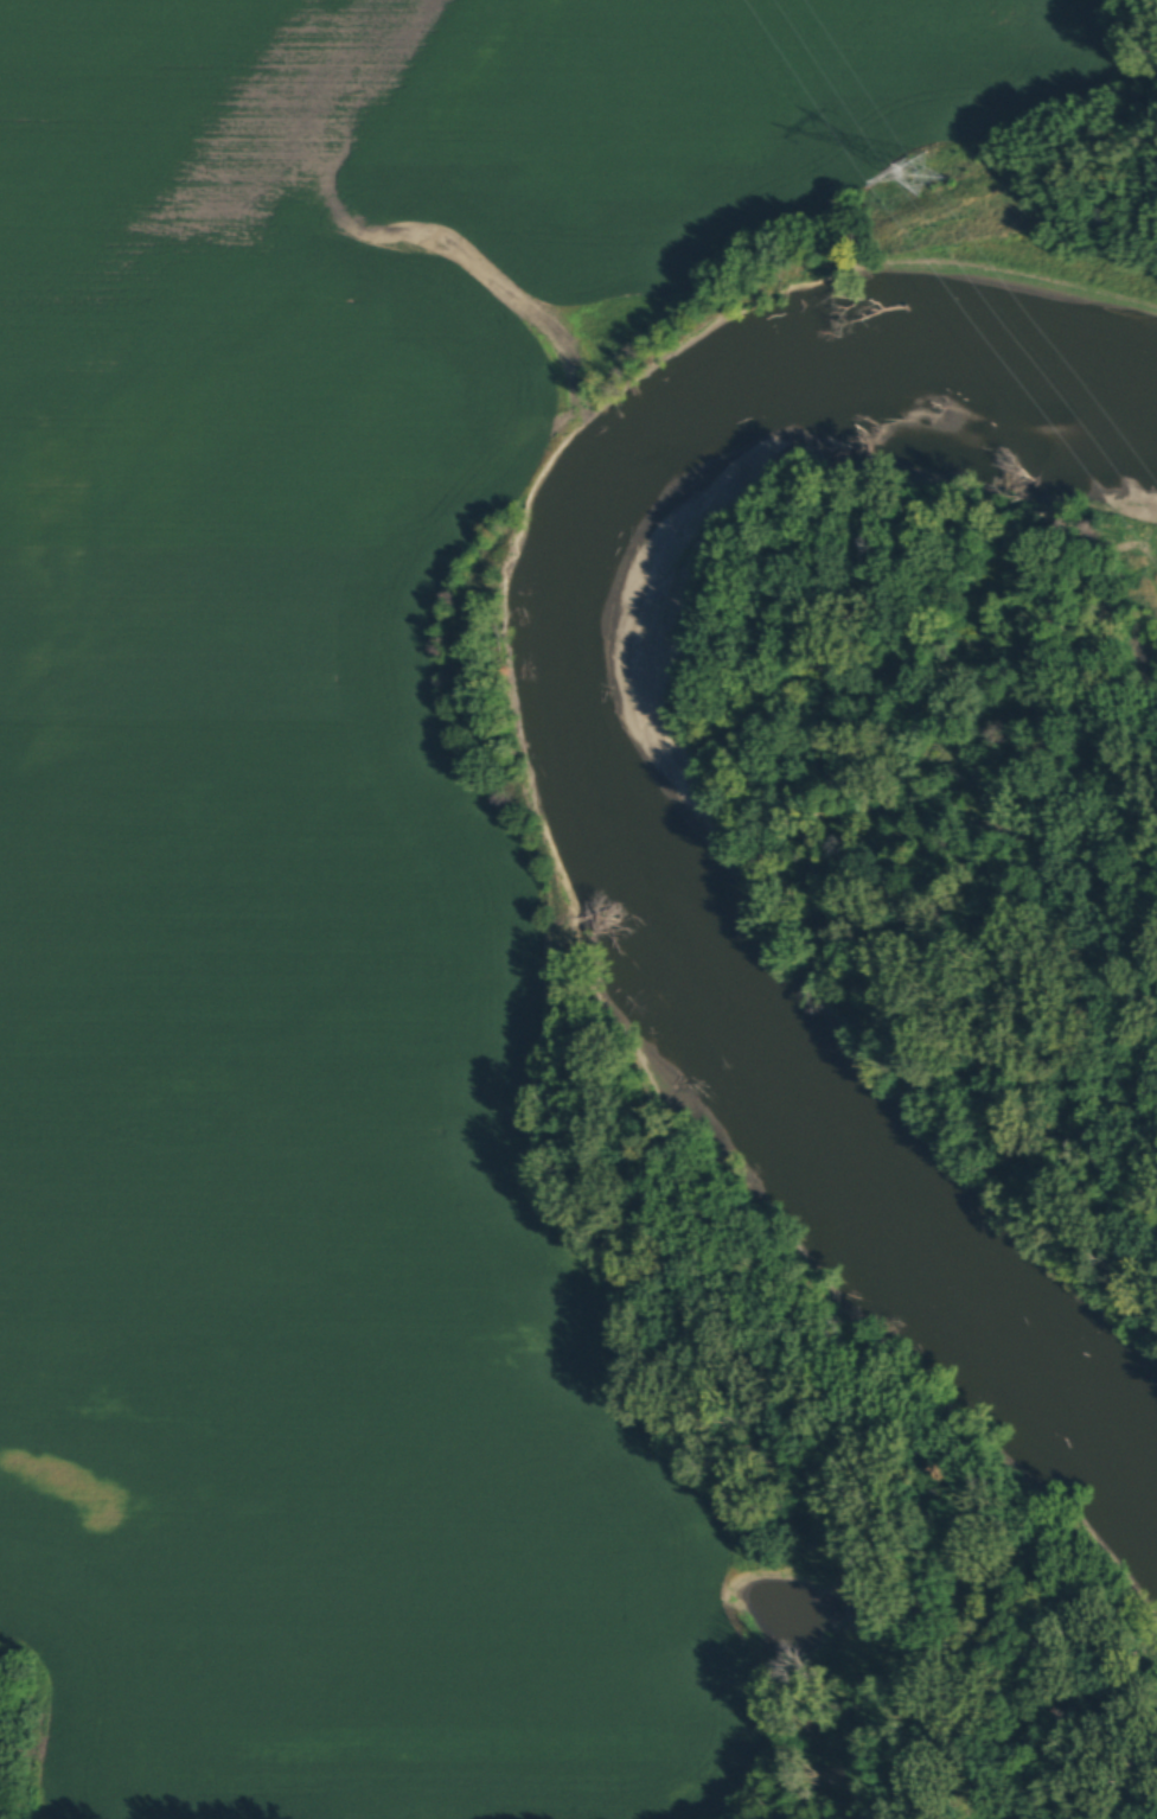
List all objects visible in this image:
power tower: (913, 160)
river: (627, 792)

